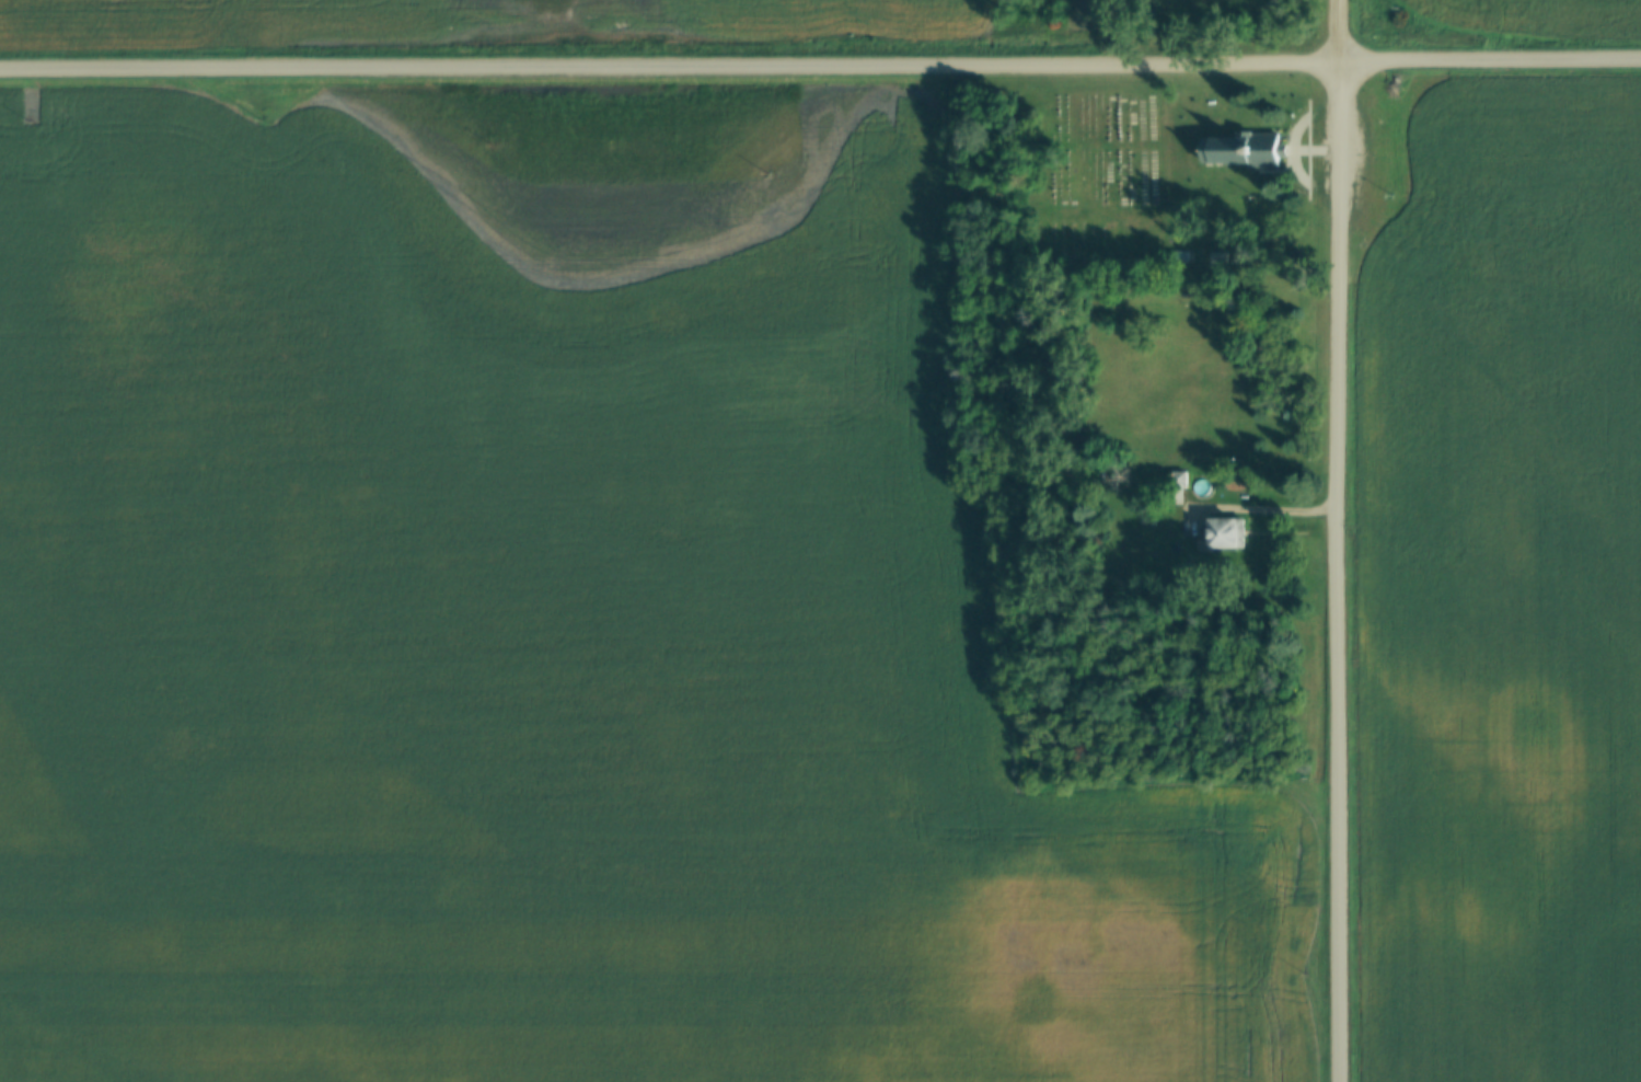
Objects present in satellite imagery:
road: (820, 64)
building: (1224, 150)
building: (1178, 480)
road: (1266, 506)
building: (1223, 533)
road: (1343, 541)

